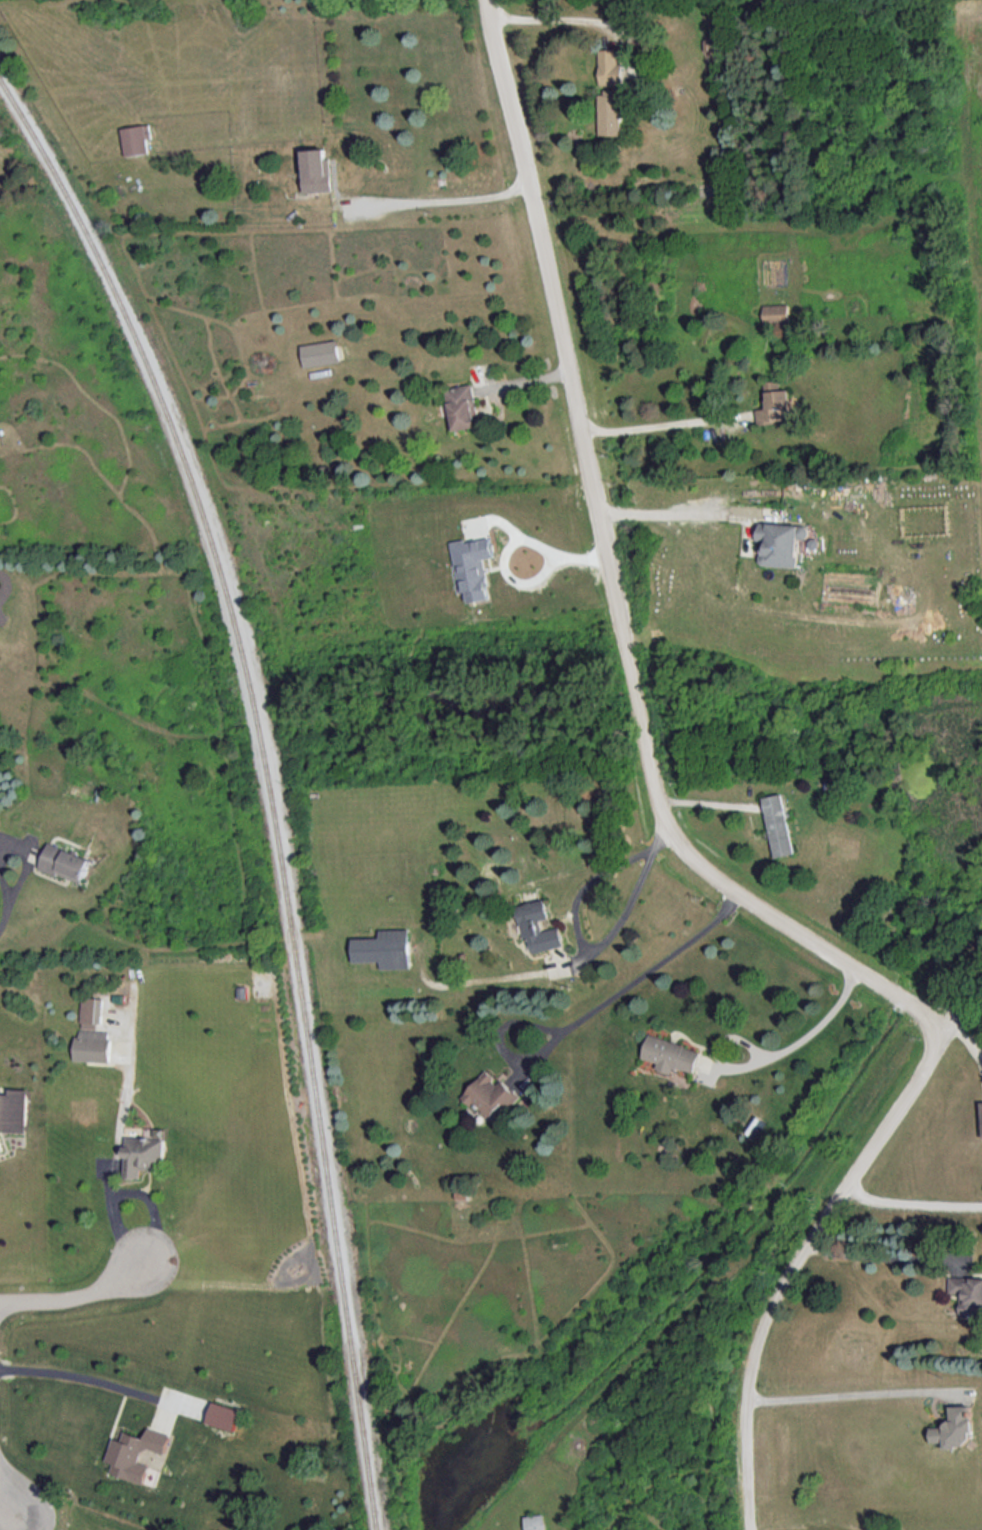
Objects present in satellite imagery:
road: (564, 17)
building: (612, 67)
building: (611, 113)
building: (136, 138)
building: (317, 170)
road: (450, 199)
building: (776, 313)
building: (320, 352)
building: (776, 403)
building: (463, 406)
road: (649, 424)
road: (665, 509)
road: (513, 538)
building: (781, 542)
road: (609, 557)
building: (472, 566)
railway: (269, 780)
building: (779, 824)
building: (67, 862)
road: (12, 897)
building: (539, 925)
building: (386, 948)
road: (594, 953)
road: (644, 977)
road: (958, 1004)
building: (90, 1012)
road: (815, 1030)
building: (92, 1044)
building: (671, 1054)
building: (490, 1094)
building: (13, 1112)
building: (143, 1152)
road: (111, 1163)
road: (915, 1194)
road: (809, 1246)
road: (885, 1258)
building: (968, 1293)
road: (77, 1295)
road: (84, 1376)
road: (848, 1393)
building: (224, 1415)
building: (957, 1427)
building: (136, 1452)
road: (13, 1505)
building: (535, 1521)
road: (27, 1527)

